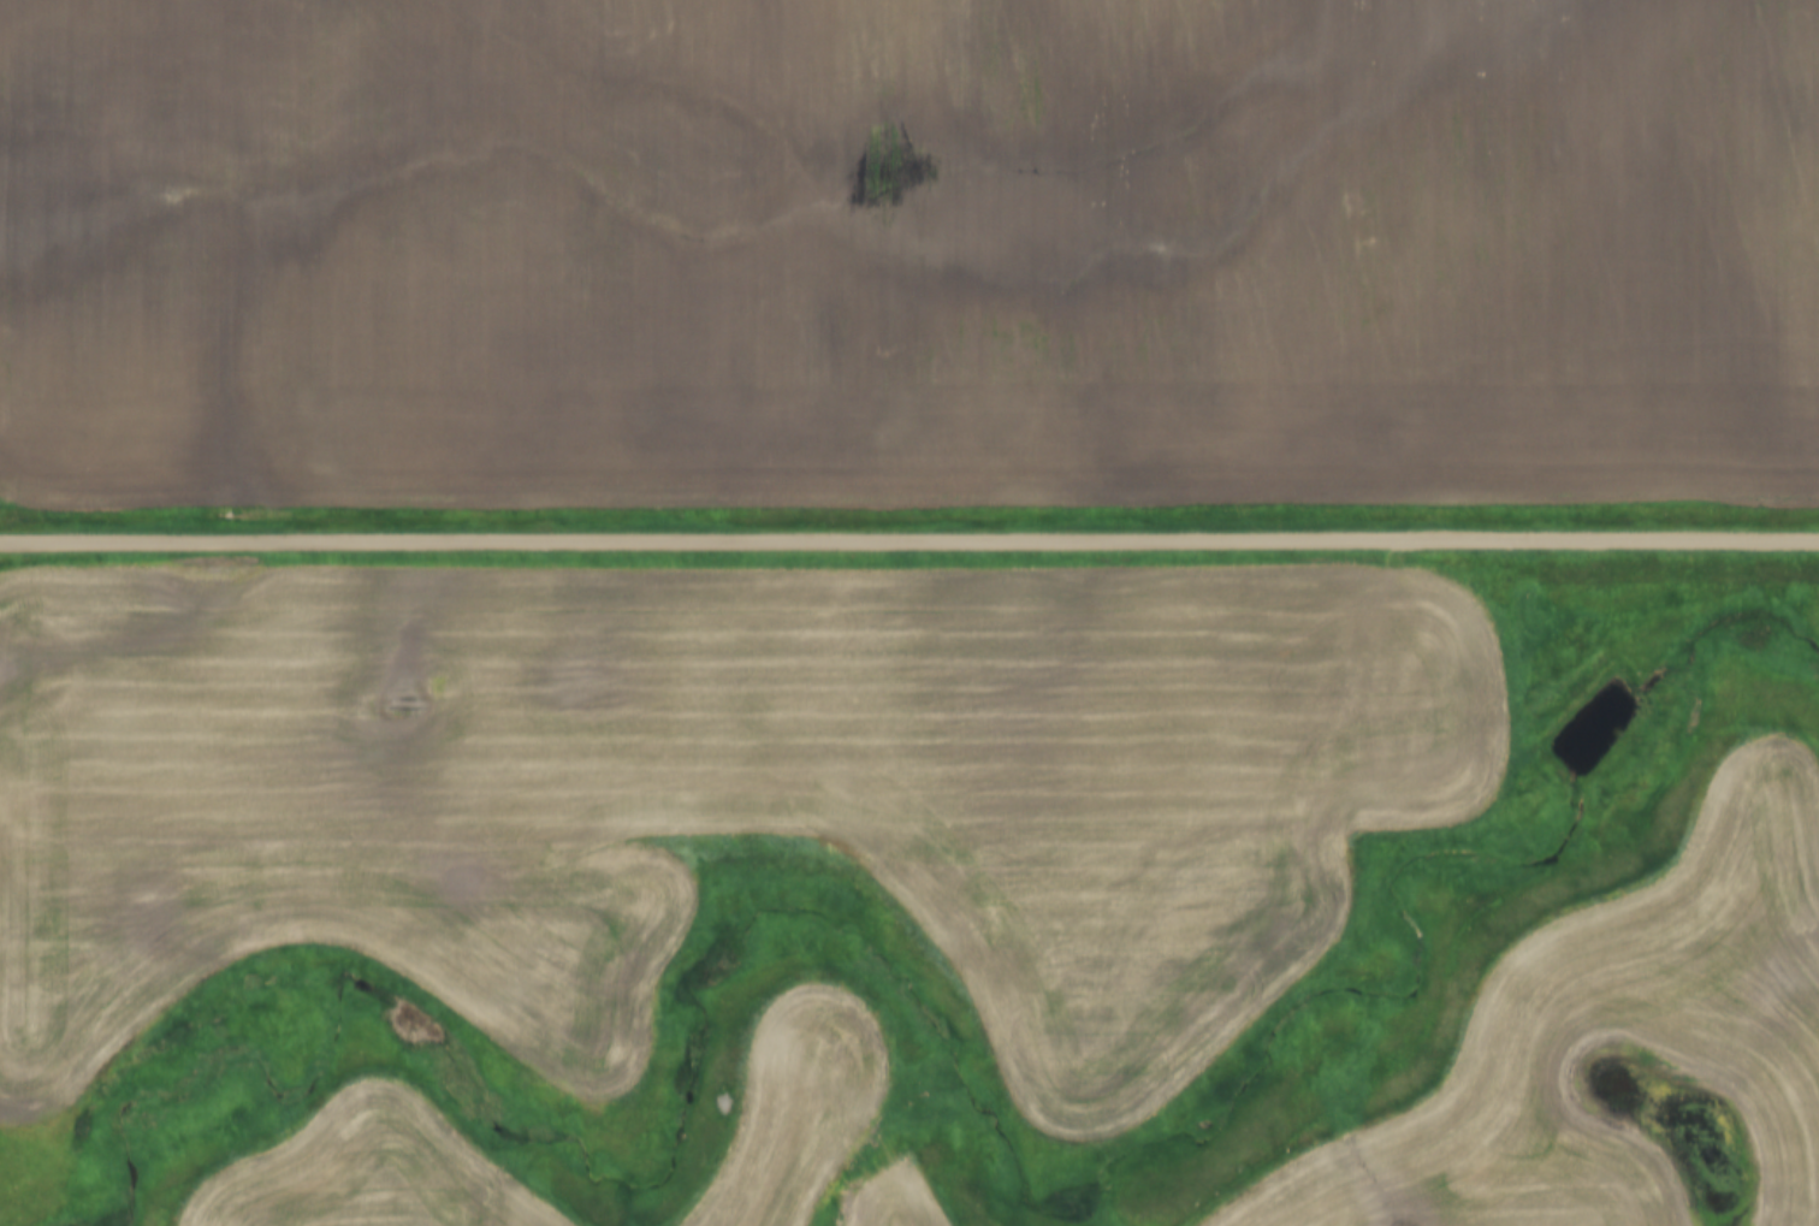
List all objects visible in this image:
road: (910, 543)

